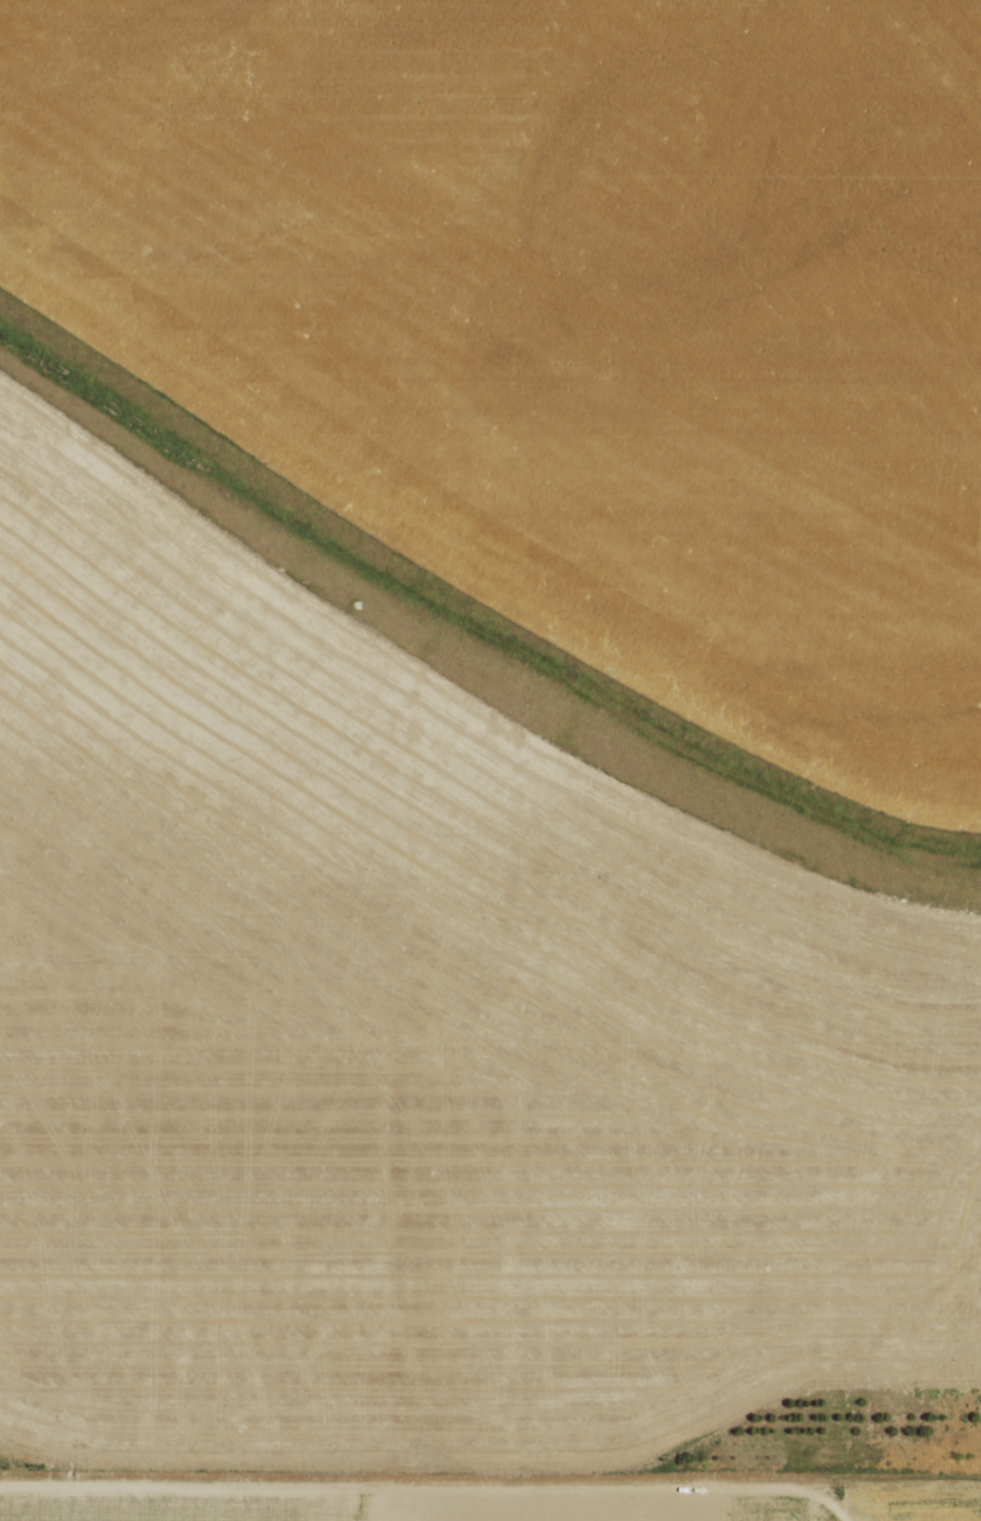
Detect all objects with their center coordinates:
crop: (567, 321)
crop: (410, 1049)
crop: (400, 1507)

